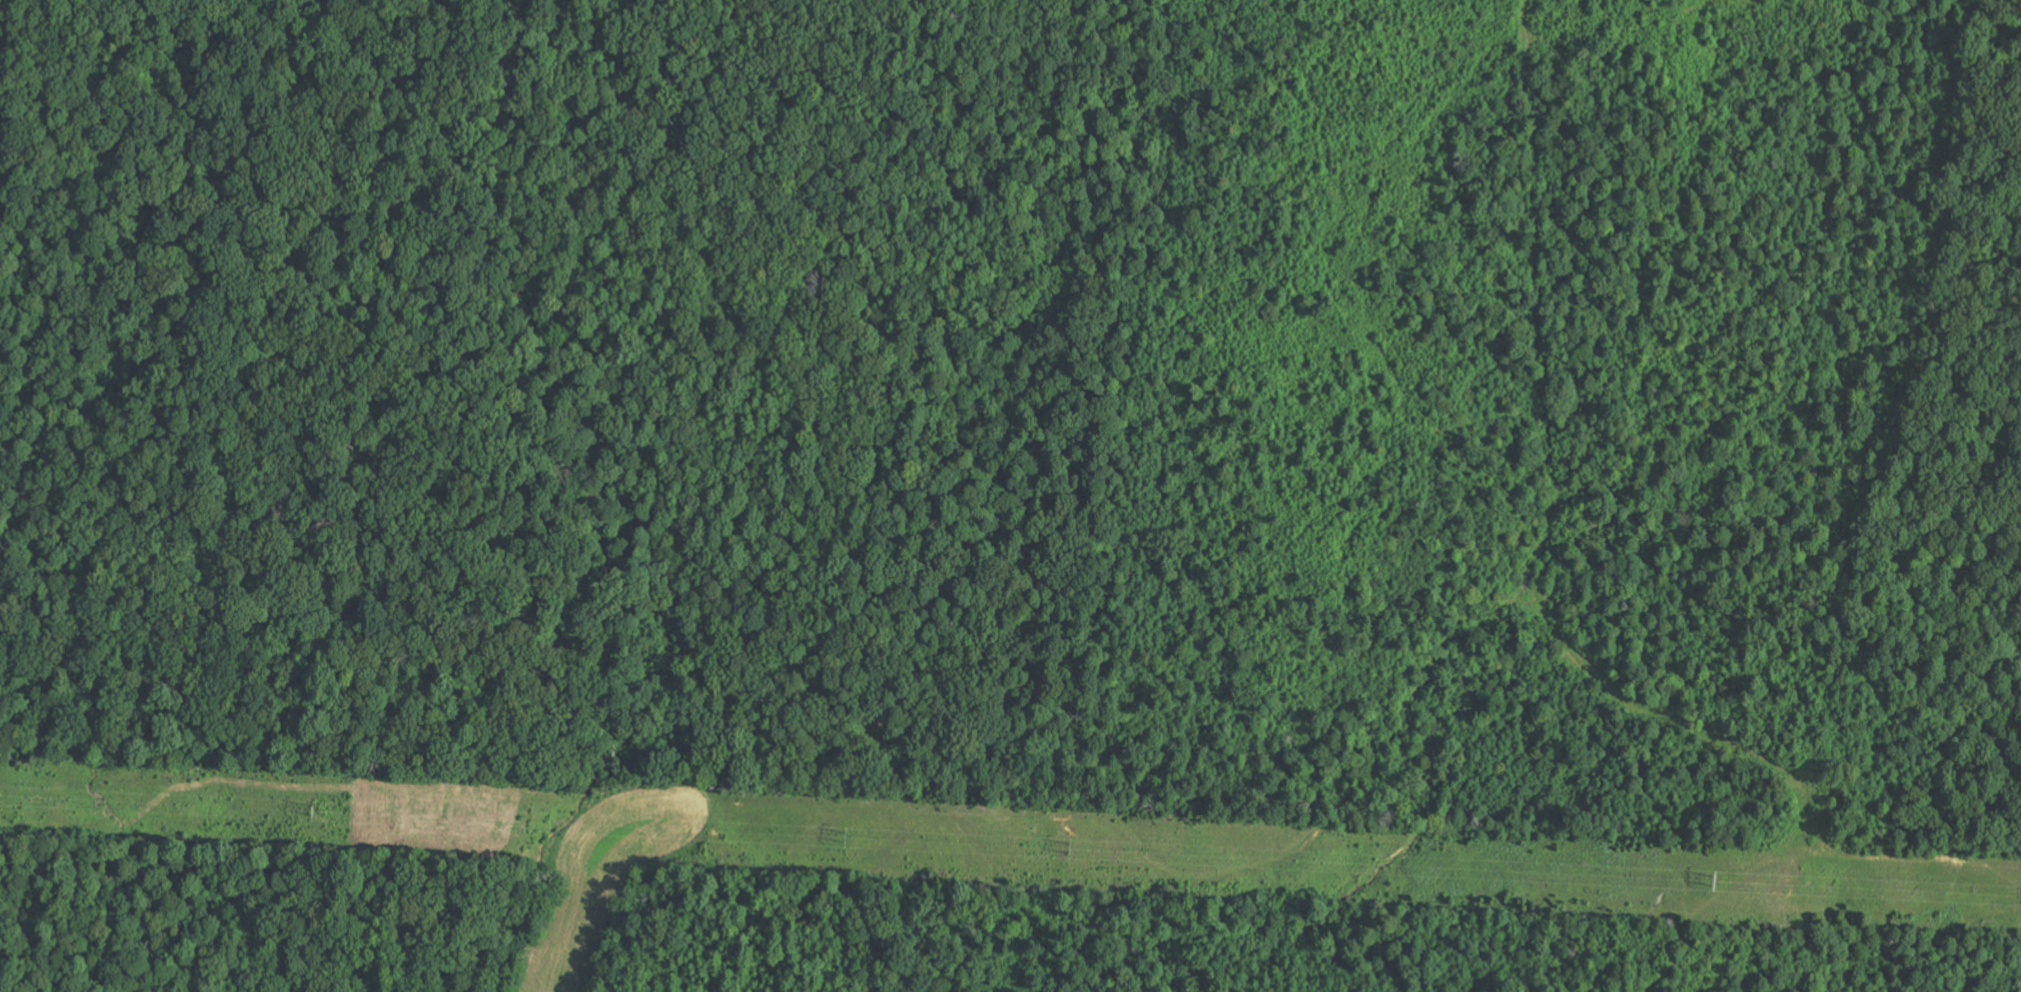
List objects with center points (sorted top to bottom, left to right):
power tower: (318, 809)
power tower: (839, 837)
power tower: (1072, 848)
power tower: (1731, 881)

